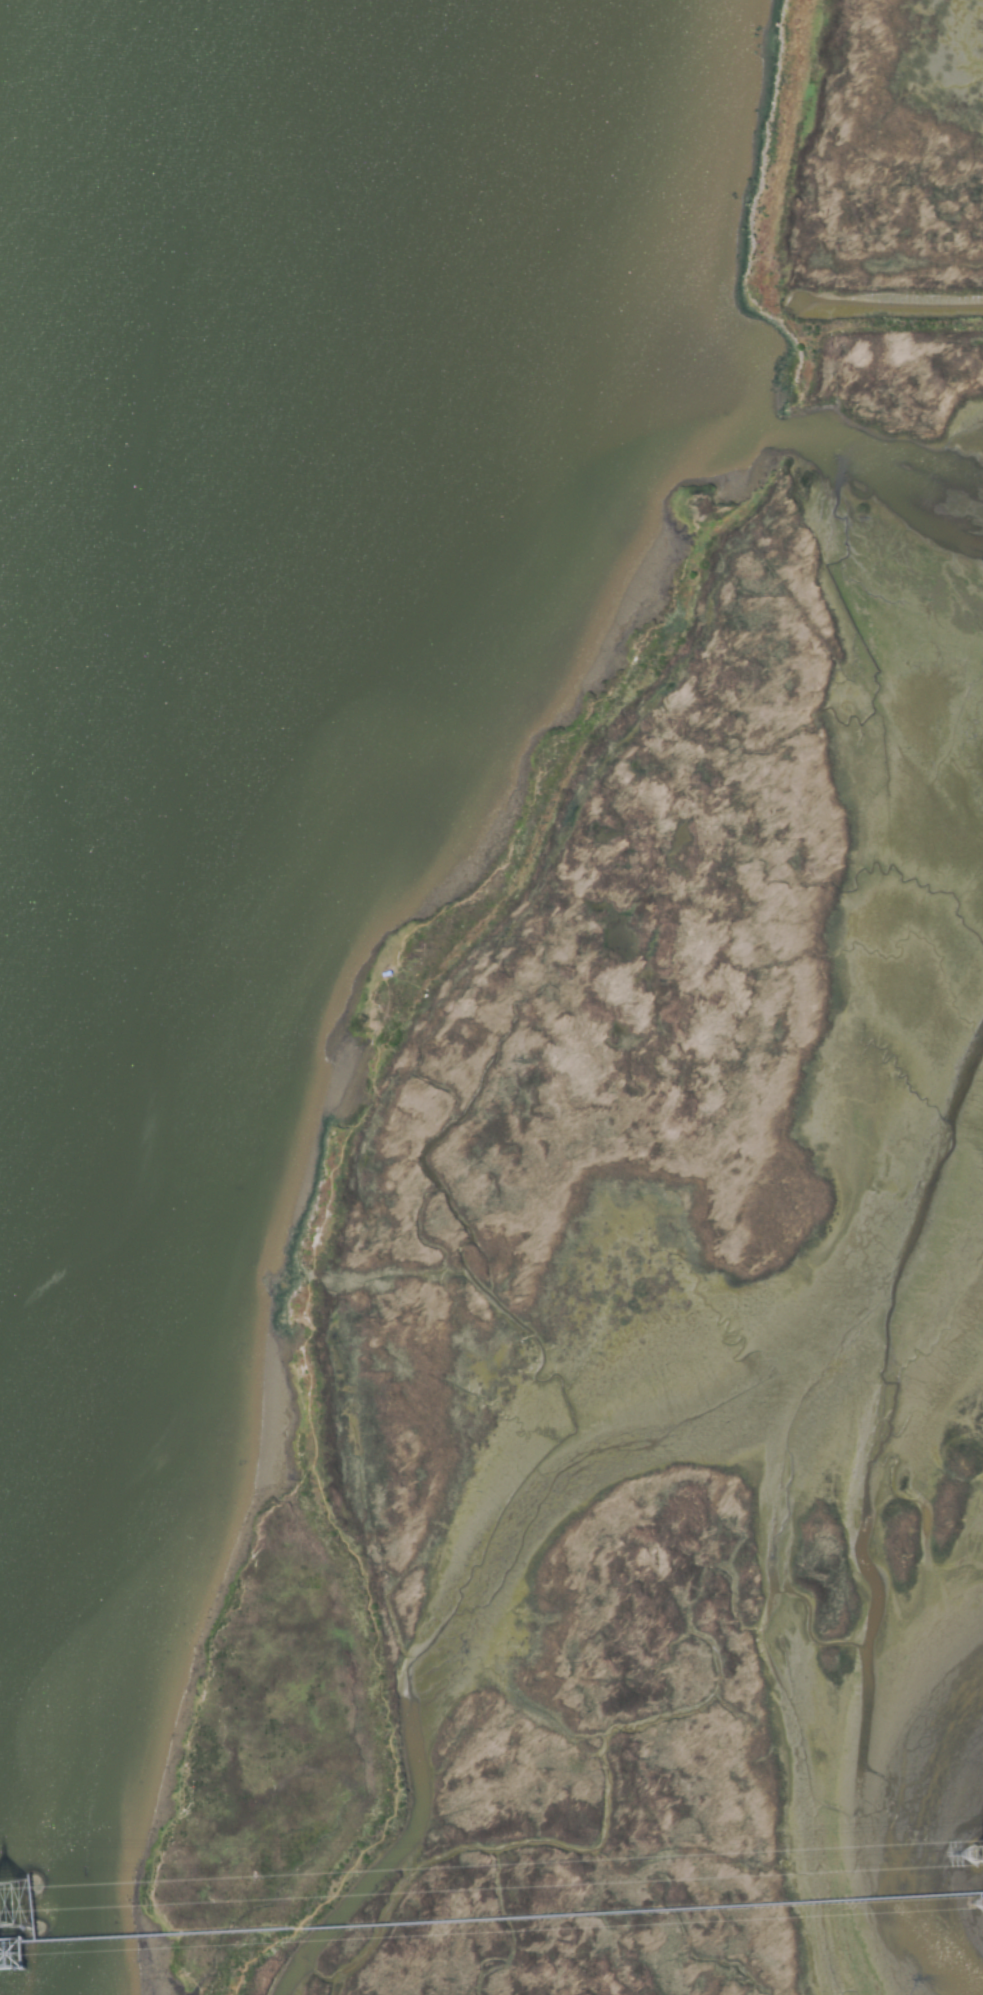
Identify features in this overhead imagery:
power tower: (7, 1912)
power tower: (9, 1959)

